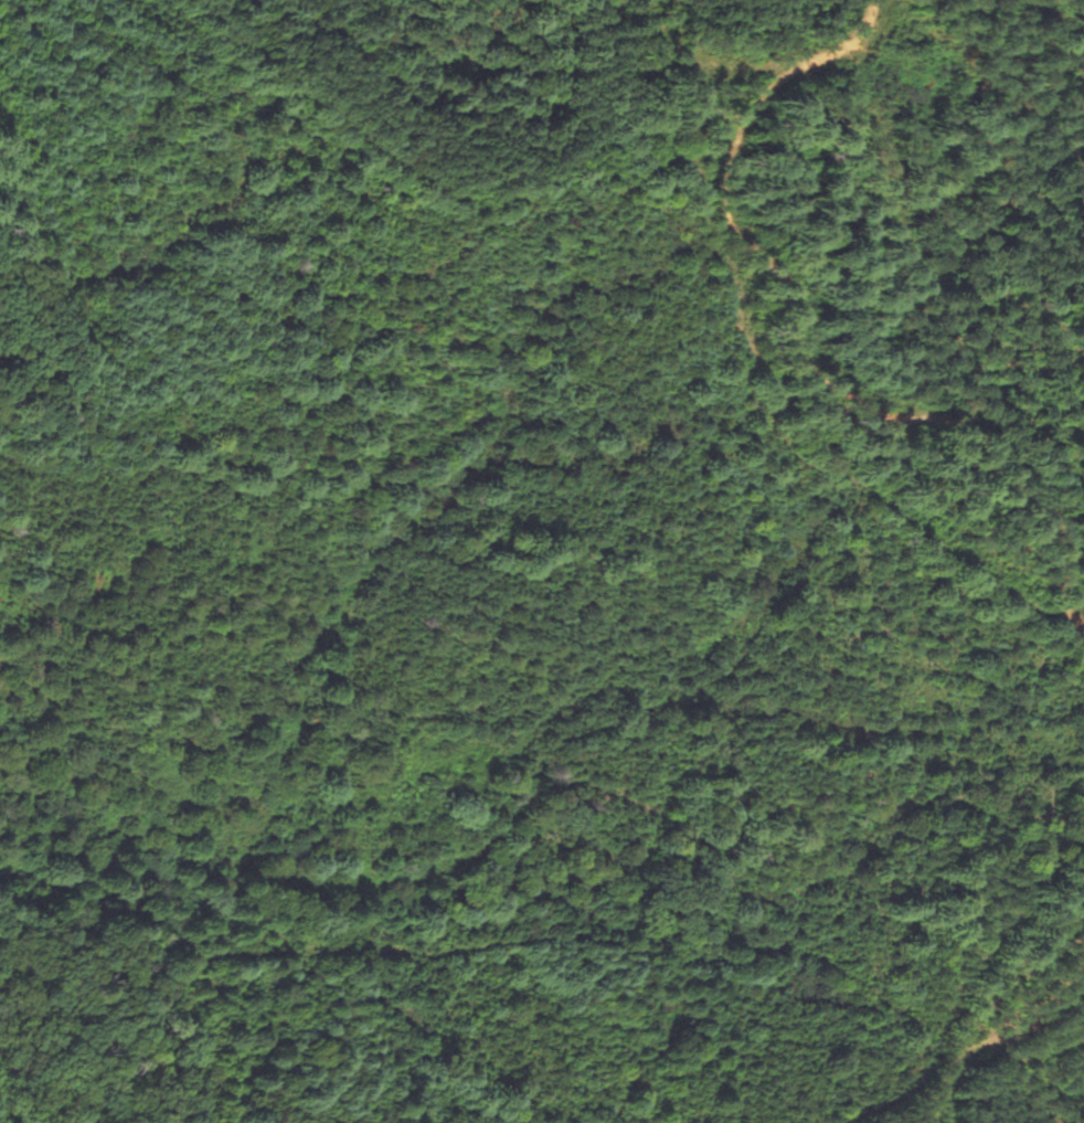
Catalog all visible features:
road: (808, 337)
road: (981, 1024)

